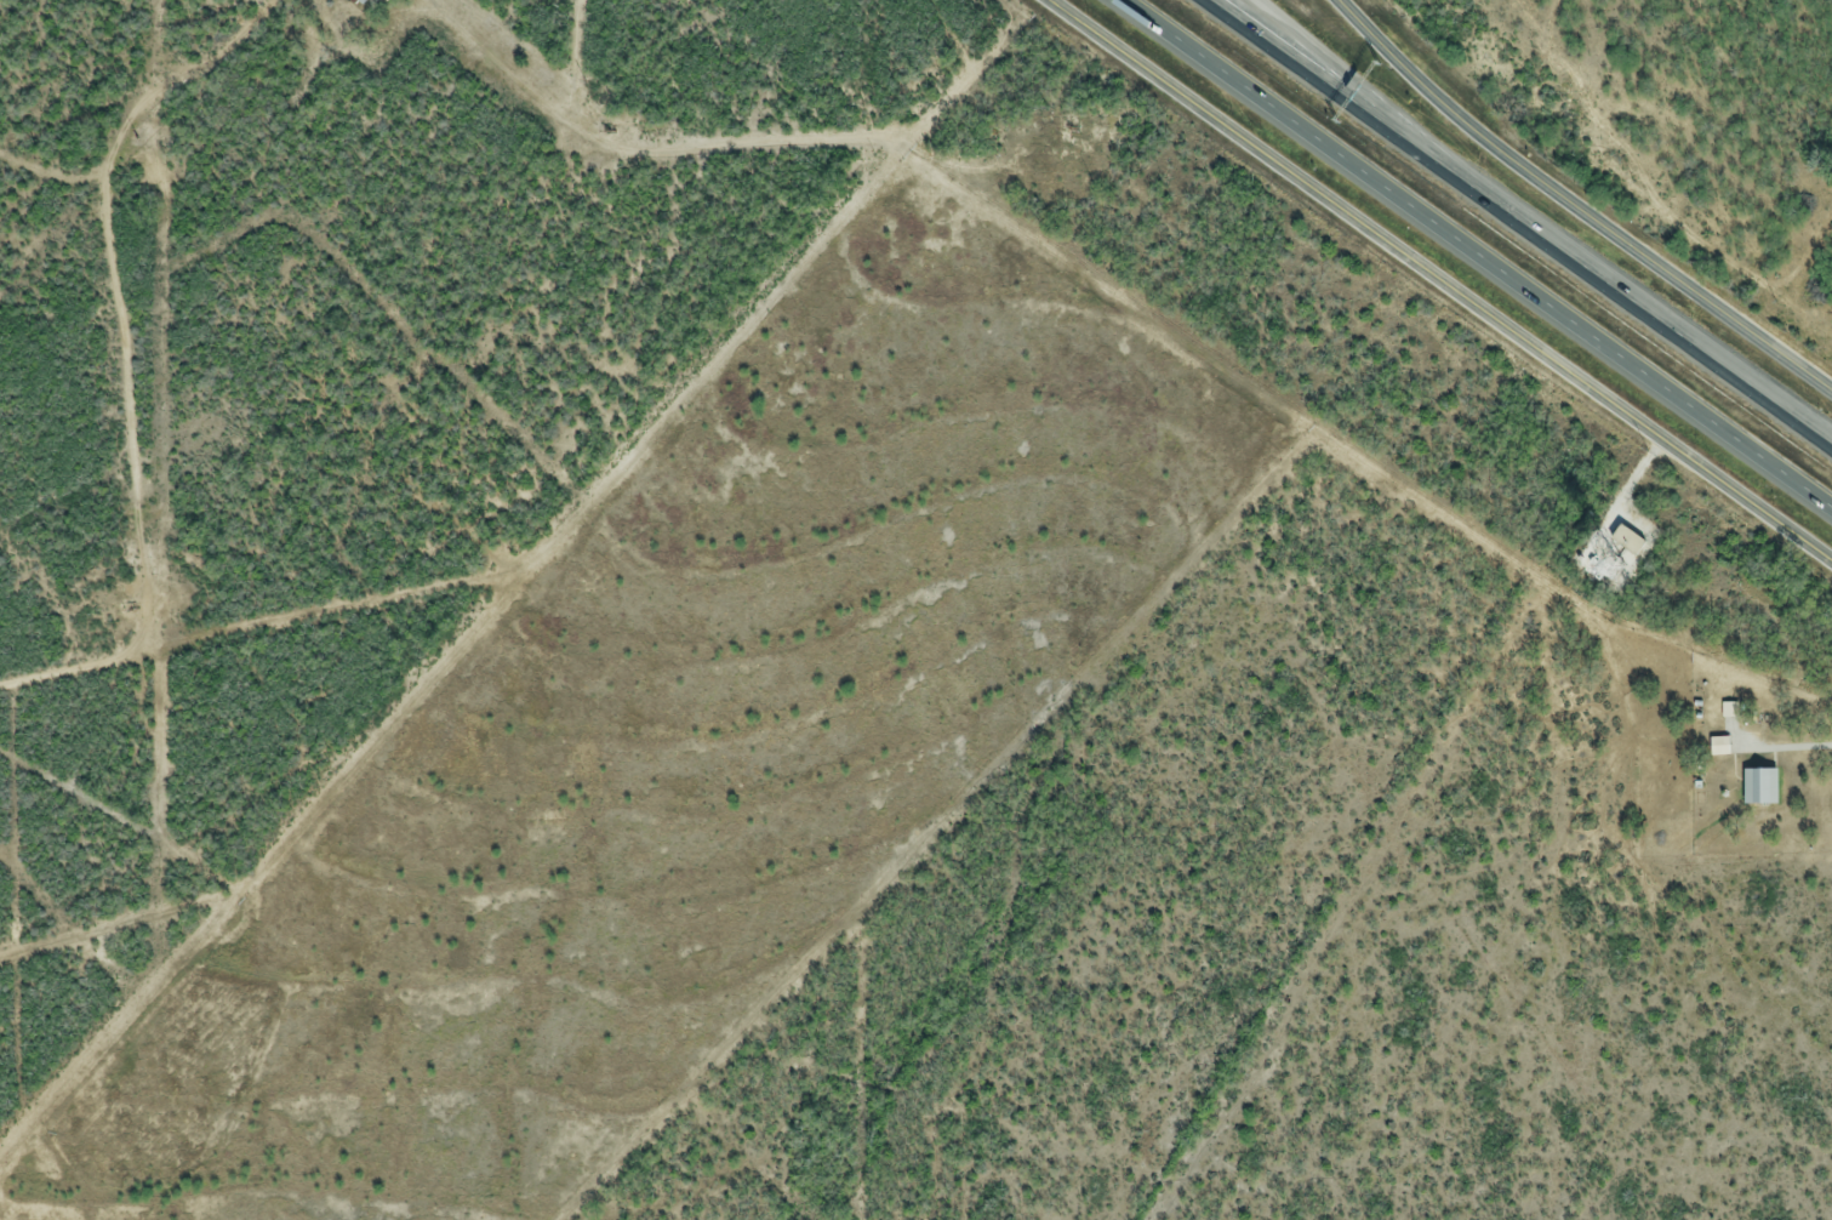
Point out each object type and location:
building: (359, 2)
road: (1328, 69)
road: (1573, 211)
road: (1522, 223)
road: (1474, 255)
road: (1438, 280)
building: (1725, 712)
road: (1780, 749)
building: (1756, 787)

